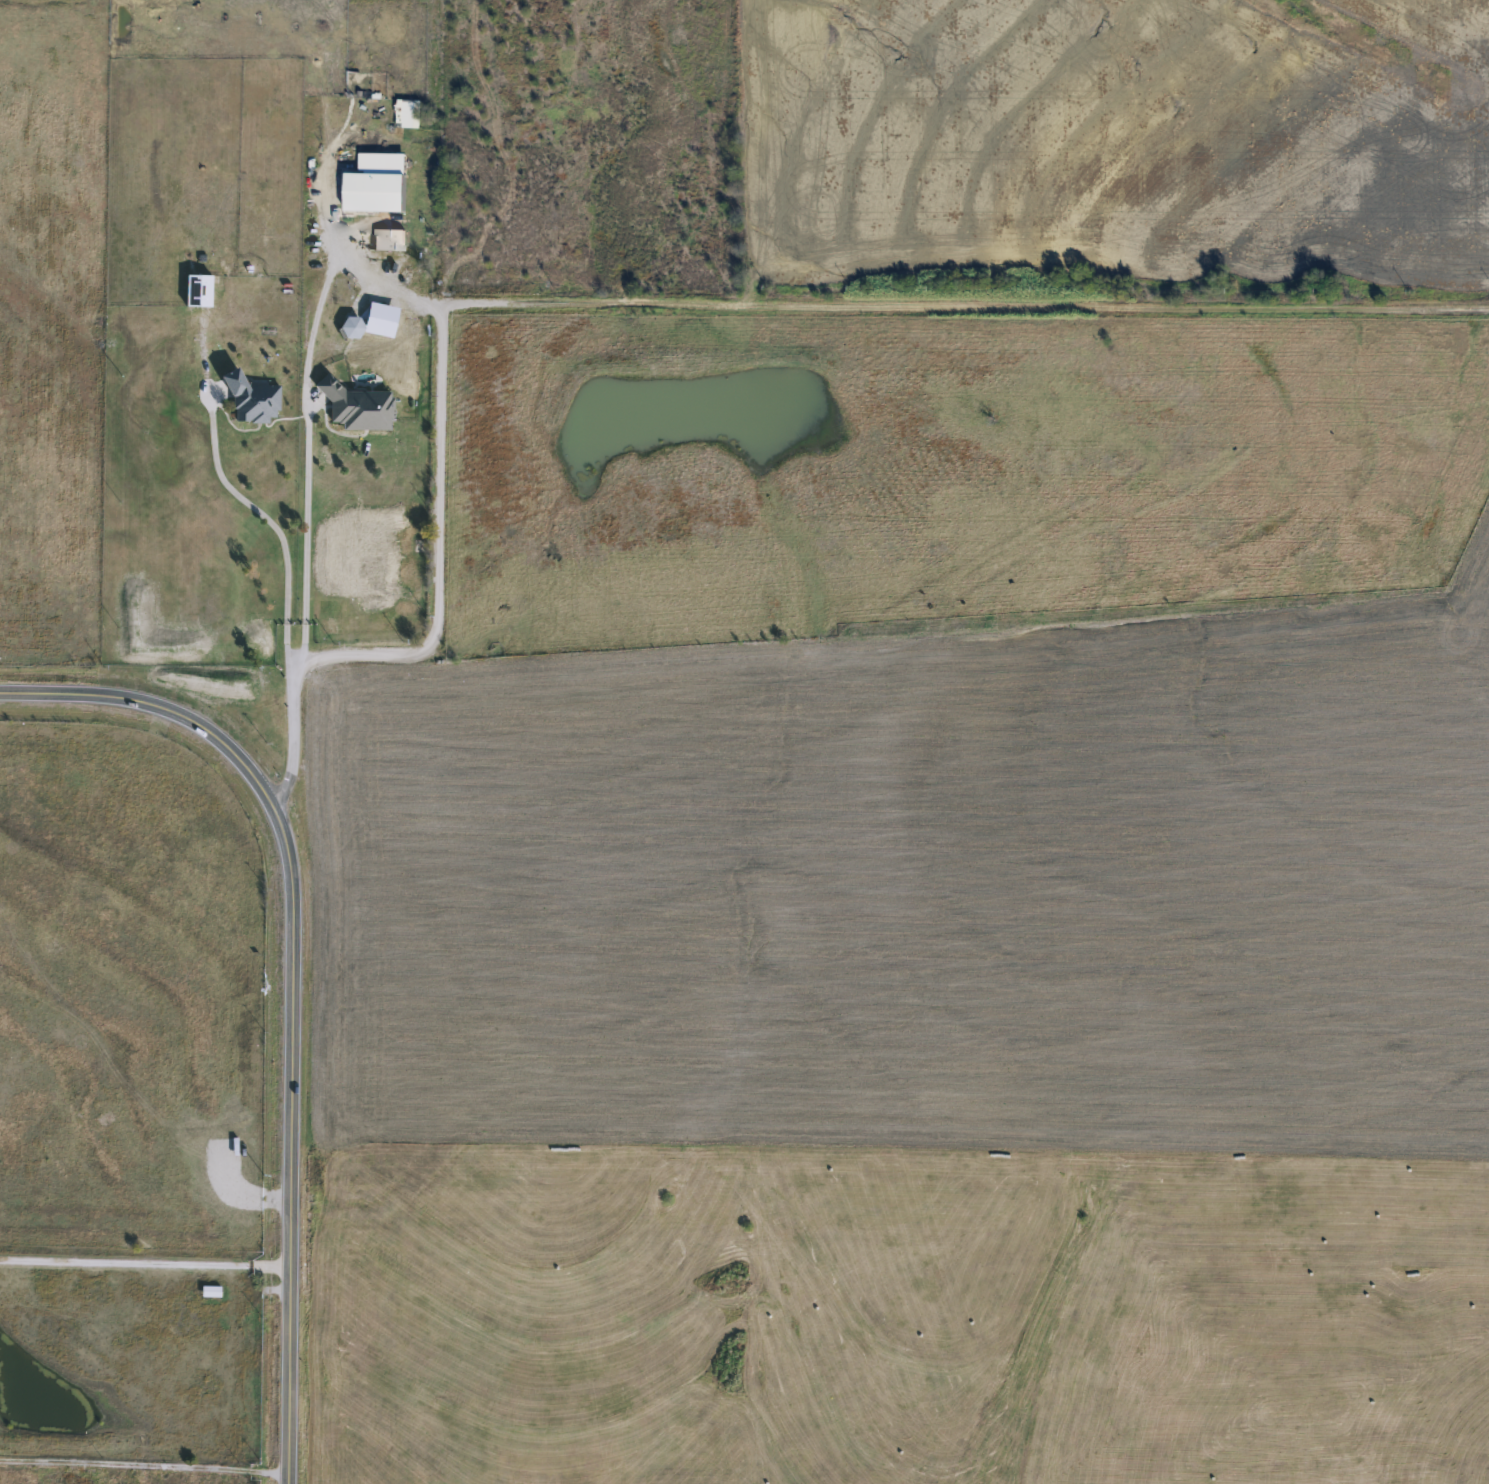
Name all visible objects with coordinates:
building: (385, 240)
road: (347, 267)
road: (963, 301)
building: (247, 399)
building: (353, 407)
road: (306, 457)
road: (275, 528)
road: (436, 626)
road: (295, 985)
road: (145, 1264)
building: (207, 1293)
road: (145, 1470)

